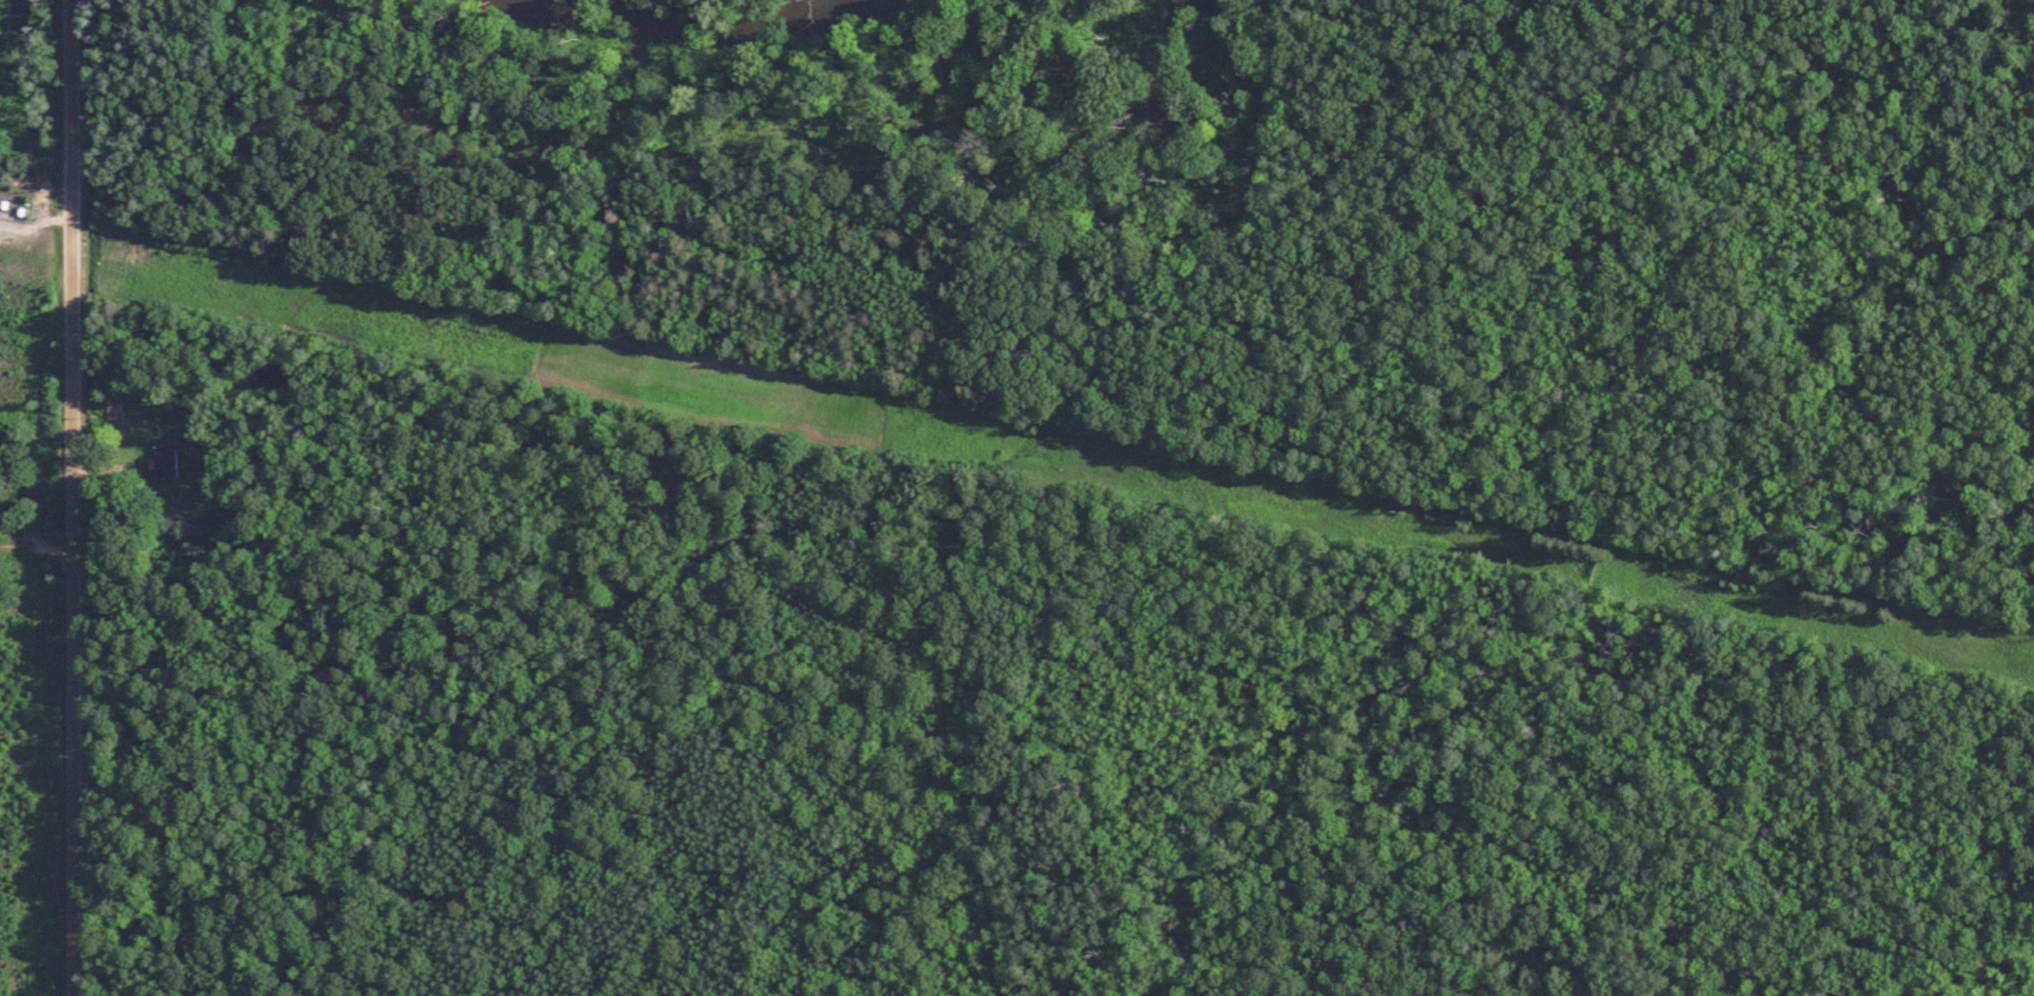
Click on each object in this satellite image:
river: (672, 36)
river: (1180, 120)
building: (164, 464)
road: (72, 498)

